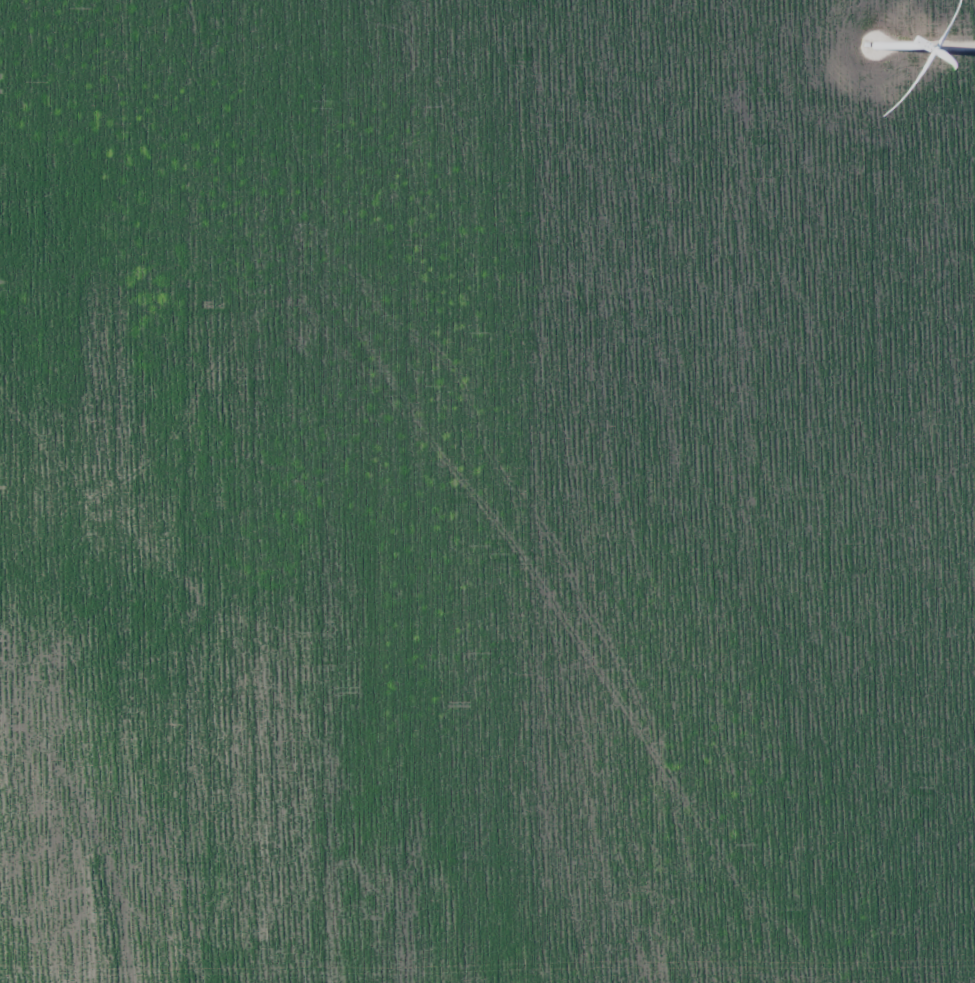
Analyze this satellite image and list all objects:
wind turbine: (879, 45)

